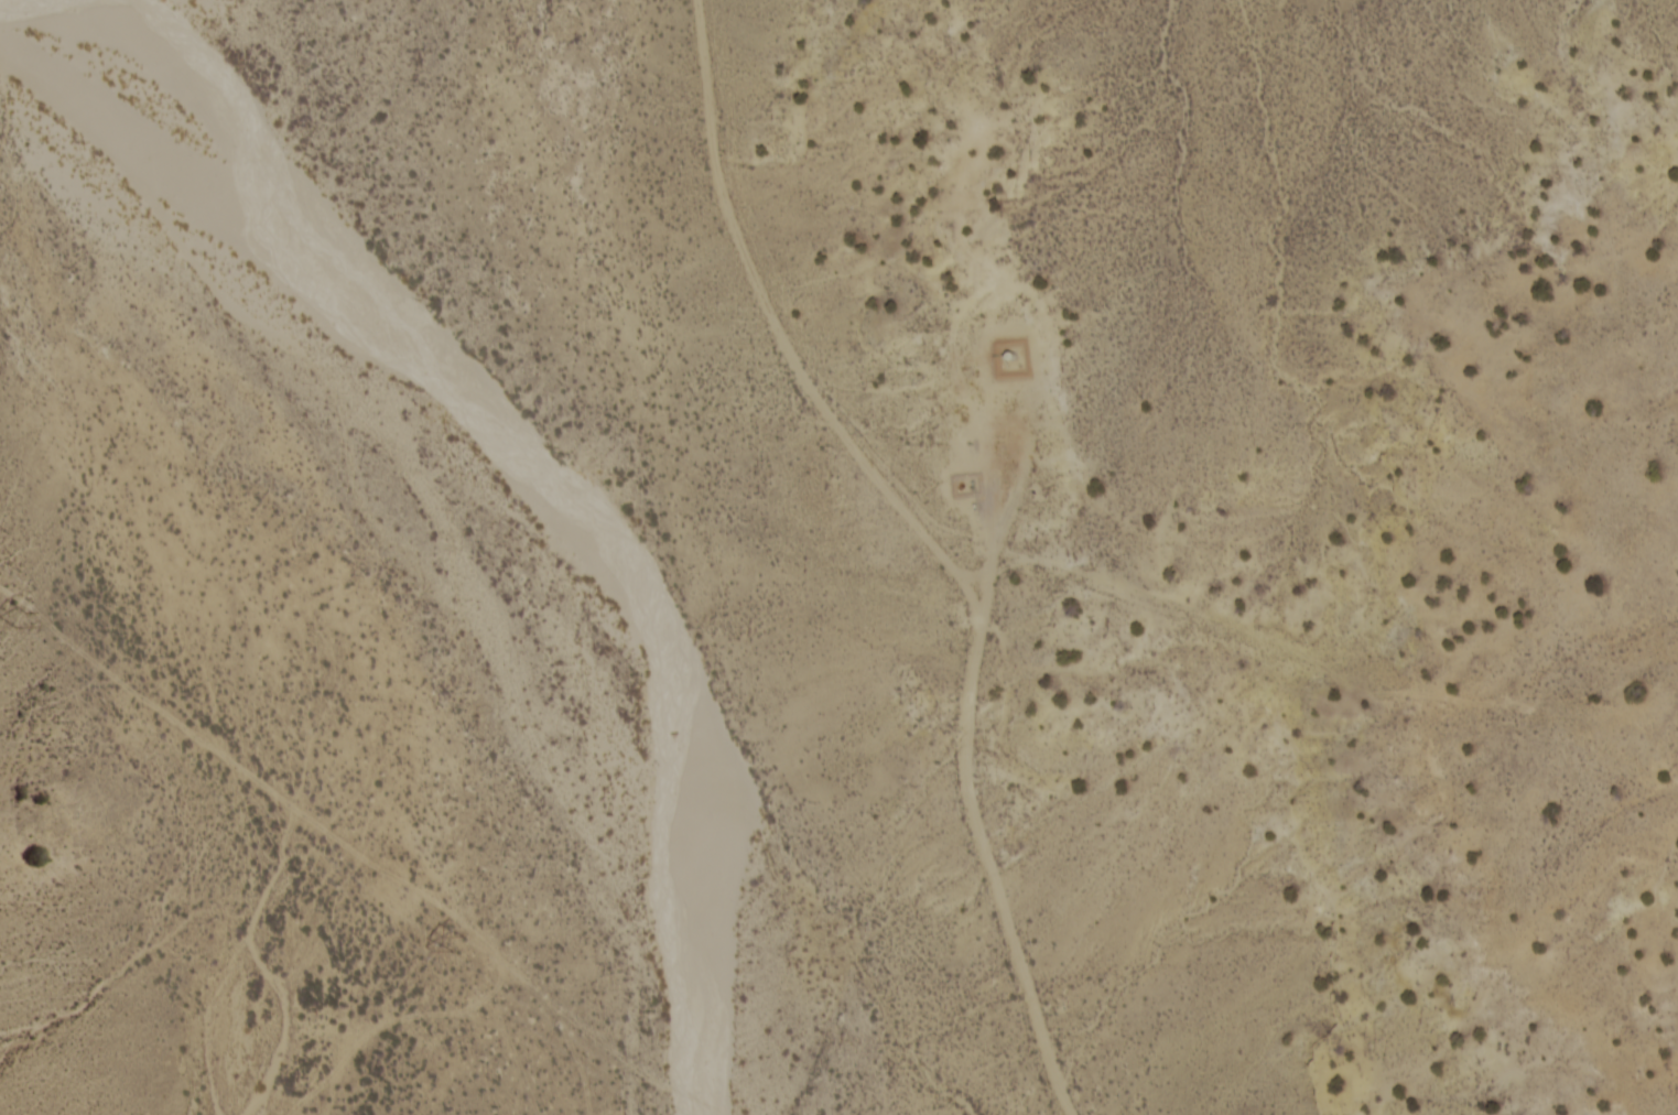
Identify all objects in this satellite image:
river: (504, 517)
power tower: (25, 624)
power tower: (455, 946)

